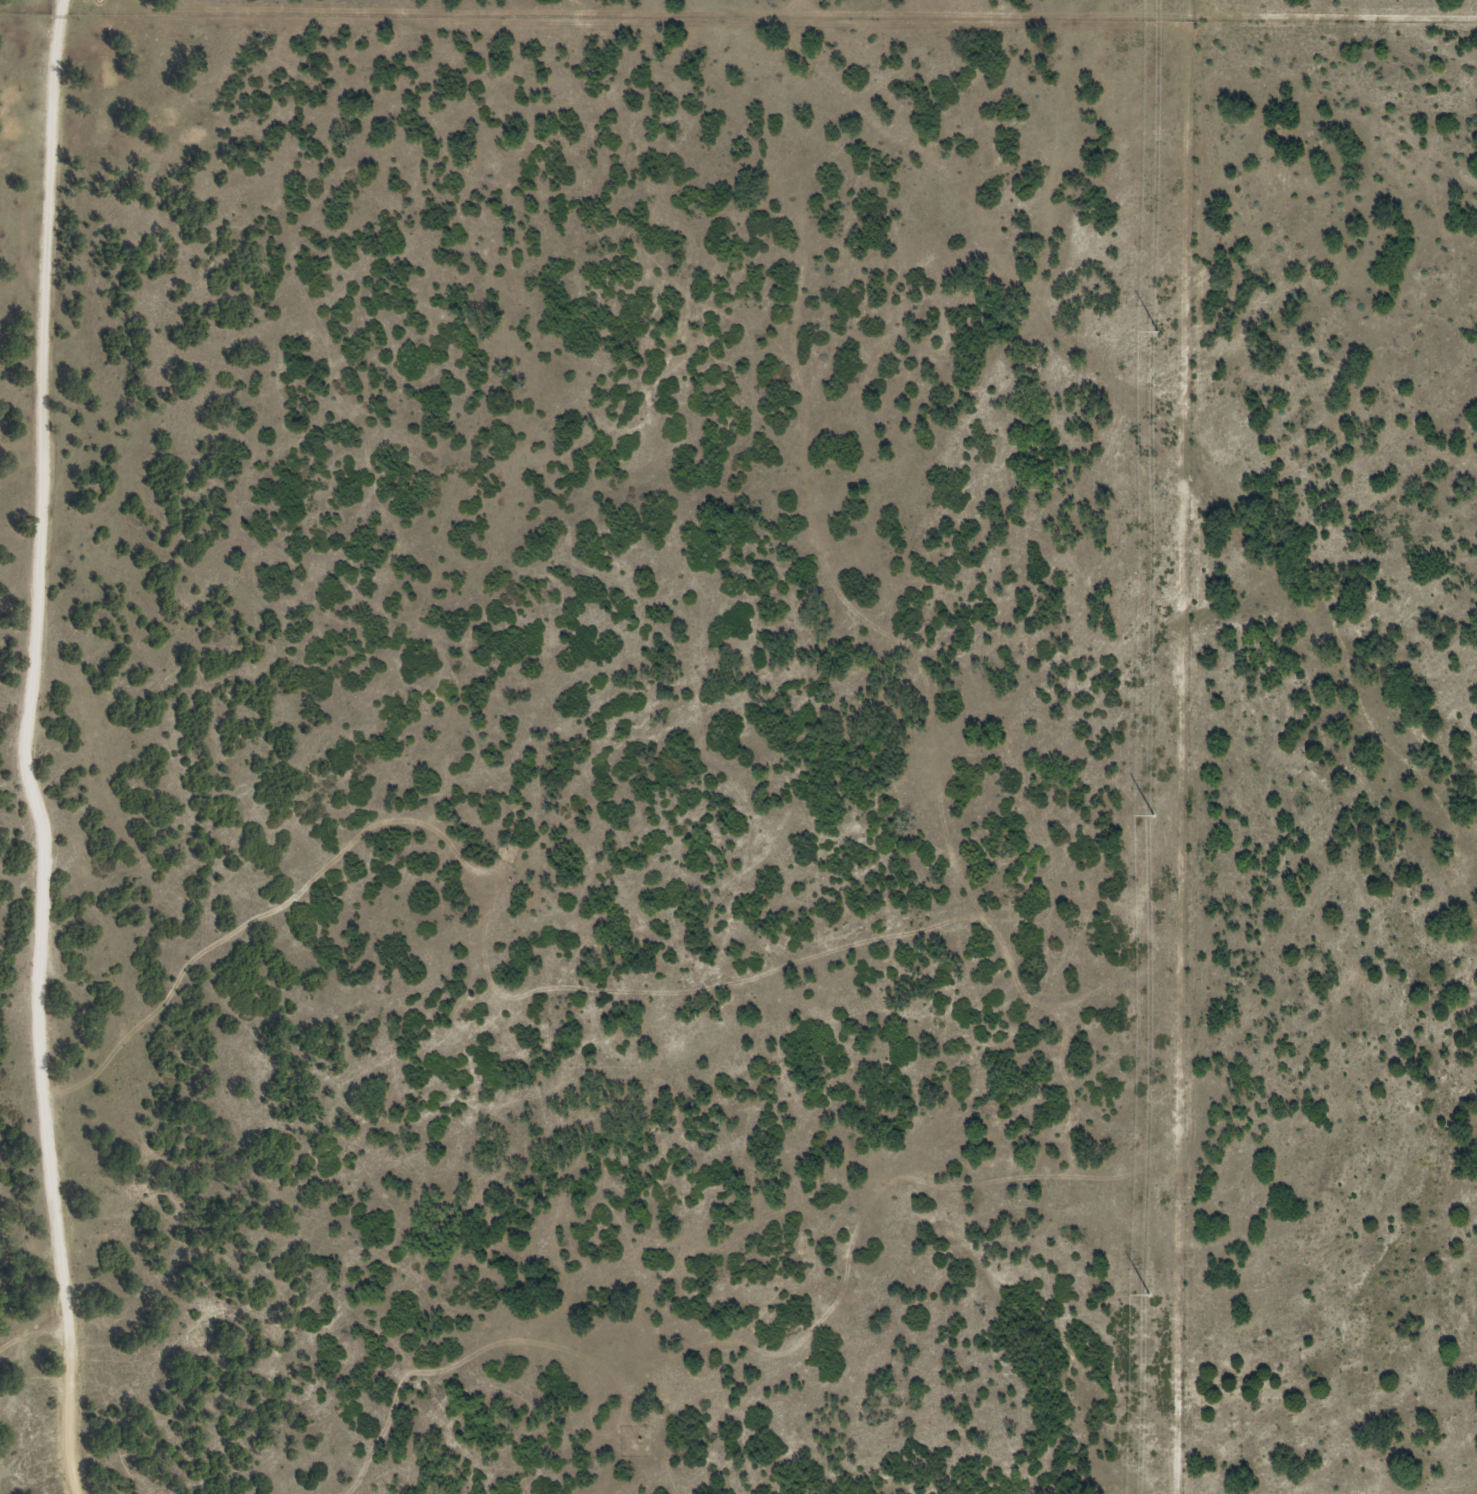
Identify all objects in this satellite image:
power tower: (1156, 332)
power tower: (1152, 817)
power tower: (1146, 1294)

